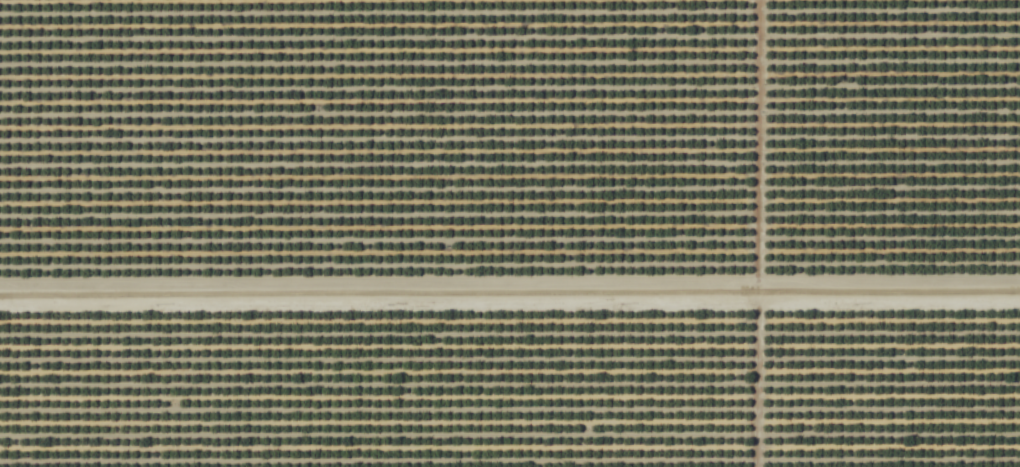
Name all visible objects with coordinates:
road: (753, 233)
road: (509, 292)

